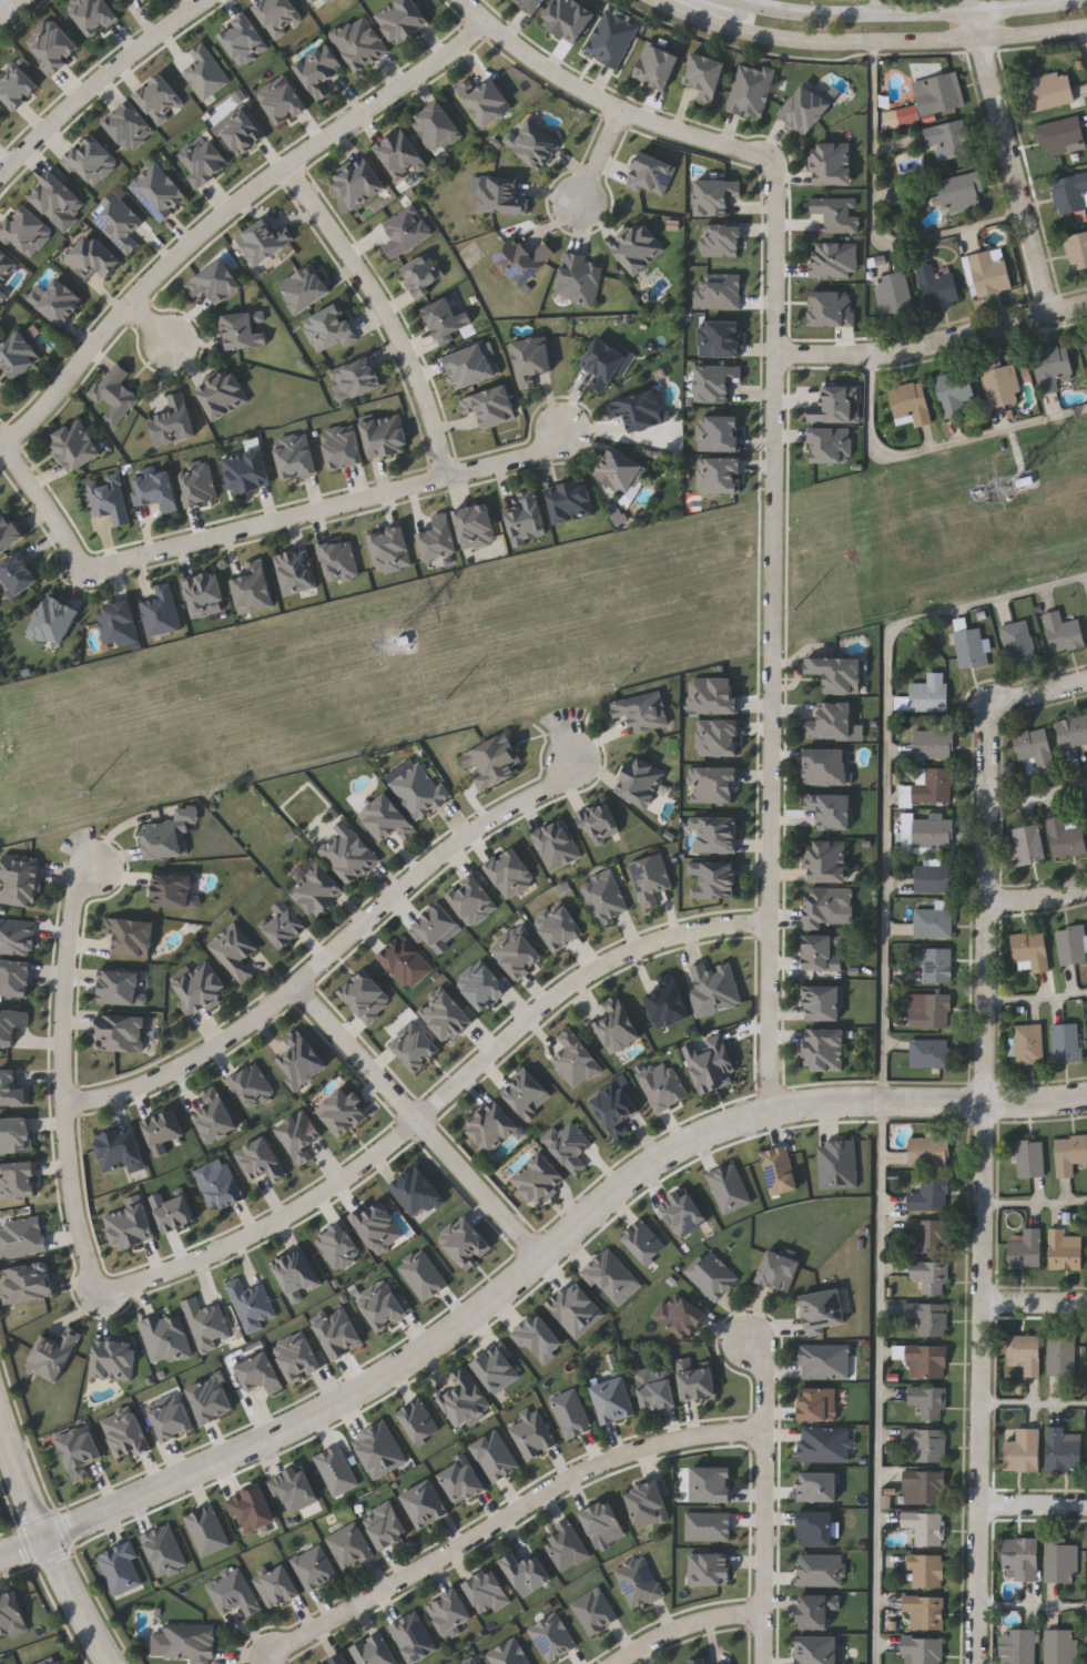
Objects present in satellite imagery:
building: (144, 0)
building: (121, 1)
building: (148, 1)
road: (1080, 1)
road: (746, 2)
road: (4, 3)
building: (319, 3)
road: (876, 8)
road: (723, 10)
road: (474, 11)
road: (908, 14)
building: (568, 18)
building: (403, 21)
road: (1035, 34)
building: (612, 38)
road: (816, 41)
road: (1084, 43)
building: (360, 44)
building: (656, 64)
building: (319, 70)
building: (206, 73)
building: (705, 76)
road: (98, 83)
building: (751, 90)
building: (1050, 90)
building: (937, 93)
building: (489, 104)
building: (805, 109)
road: (619, 112)
building: (437, 127)
building: (243, 132)
building: (1061, 134)
building: (951, 137)
building: (535, 144)
road: (875, 151)
building: (400, 155)
road: (1013, 157)
building: (203, 160)
road: (601, 160)
building: (832, 163)
building: (359, 184)
building: (957, 190)
building: (159, 191)
building: (1070, 193)
building: (715, 194)
building: (505, 197)
road: (224, 214)
building: (121, 224)
building: (265, 239)
building: (639, 247)
building: (1077, 249)
building: (92, 257)
building: (834, 257)
building: (526, 263)
building: (7, 267)
building: (988, 270)
building: (425, 275)
building: (579, 277)
building: (215, 283)
building: (937, 284)
building: (304, 289)
building: (893, 293)
building: (58, 302)
road: (385, 310)
building: (448, 320)
road: (149, 323)
building: (243, 330)
building: (1086, 337)
road: (933, 341)
building: (18, 357)
building: (531, 358)
building: (602, 363)
building: (1053, 366)
building: (476, 368)
building: (356, 377)
building: (715, 380)
building: (1000, 382)
building: (954, 391)
building: (115, 395)
building: (223, 396)
building: (910, 402)
building: (494, 408)
building: (639, 409)
building: (173, 422)
building: (386, 437)
road: (1, 442)
building: (74, 447)
road: (935, 447)
building: (247, 472)
building: (622, 472)
power tower: (1010, 484)
building: (109, 499)
building: (570, 501)
road: (44, 503)
road: (328, 504)
building: (526, 518)
building: (295, 572)
building: (18, 573)
building: (254, 589)
building: (204, 594)
building: (162, 612)
building: (53, 621)
building: (118, 623)
building: (1063, 630)
road: (774, 634)
building: (1018, 640)
power tower: (404, 645)
building: (971, 645)
building: (837, 671)
building: (928, 690)
road: (1042, 694)
building: (642, 708)
building: (832, 718)
building: (1074, 729)
building: (934, 742)
building: (1035, 744)
building: (496, 763)
building: (827, 764)
road: (886, 764)
building: (641, 779)
road: (1038, 783)
building: (933, 784)
building: (420, 792)
building: (831, 807)
building: (388, 819)
building: (600, 820)
building: (933, 829)
building: (714, 831)
building: (1065, 835)
building: (170, 836)
building: (1028, 843)
building: (557, 844)
building: (351, 856)
building: (827, 859)
building: (934, 876)
building: (649, 877)
building: (712, 877)
building: (21, 882)
building: (176, 889)
building: (317, 890)
road: (1038, 897)
building: (605, 898)
building: (933, 919)
building: (132, 936)
building: (1073, 942)
building: (1032, 949)
building: (235, 951)
road: (333, 952)
road: (620, 959)
building: (936, 963)
road: (1037, 986)
building: (121, 987)
building: (713, 987)
building: (202, 988)
building: (668, 1000)
building: (823, 1001)
building: (929, 1009)
building: (617, 1024)
building: (122, 1033)
building: (1067, 1040)
building: (1029, 1042)
building: (824, 1048)
building: (931, 1051)
building: (303, 1061)
building: (709, 1061)
road: (67, 1075)
building: (525, 1093)
road: (985, 1101)
building: (613, 1106)
building: (345, 1112)
building: (216, 1117)
road: (420, 1120)
building: (495, 1130)
building: (16, 1135)
building: (299, 1136)
building: (929, 1150)
building: (122, 1151)
building: (1070, 1153)
building: (1029, 1157)
building: (262, 1161)
building: (538, 1178)
road: (986, 1184)
road: (1036, 1192)
building: (418, 1193)
building: (929, 1194)
road: (313, 1199)
building: (131, 1225)
building: (929, 1236)
building: (1026, 1247)
building: (1066, 1249)
building: (779, 1269)
building: (711, 1274)
building: (297, 1275)
building: (932, 1275)
building: (29, 1283)
road: (1036, 1303)
building: (824, 1308)
building: (680, 1314)
building: (928, 1317)
road: (450, 1330)
building: (166, 1339)
building: (1025, 1351)
building: (54, 1355)
building: (1061, 1356)
building: (928, 1359)
building: (114, 1360)
building: (825, 1360)
building: (694, 1378)
road: (882, 1382)
building: (654, 1387)
road: (1035, 1392)
building: (613, 1399)
building: (466, 1400)
building: (928, 1400)
building: (819, 1403)
building: (531, 1432)
building: (926, 1442)
building: (825, 1443)
building: (1064, 1449)
building: (1024, 1451)
building: (81, 1452)
road: (619, 1459)
road: (22, 1479)
building: (464, 1482)
building: (711, 1483)
building: (924, 1487)
road: (764, 1499)
building: (647, 1502)
building: (427, 1504)
road: (1035, 1505)
building: (601, 1520)
building: (387, 1525)
building: (925, 1527)
building: (816, 1528)
building: (566, 1545)
building: (351, 1546)
building: (1020, 1559)
building: (1061, 1560)
building: (315, 1569)
building: (927, 1570)
building: (527, 1571)
building: (278, 1588)
road: (376, 1592)
building: (234, 1593)
road: (1034, 1593)
building: (490, 1594)
road: (79, 1601)
building: (926, 1611)
building: (815, 1612)
building: (451, 1613)
building: (11, 1614)
road: (685, 1626)
building: (186, 1644)
building: (1019, 1646)
building: (1061, 1646)
building: (817, 1650)
building: (923, 1651)
building: (374, 1652)
road: (268, 1660)
building: (52, 1661)
building: (341, 1661)
building: (699, 1661)
building: (476, 1662)

